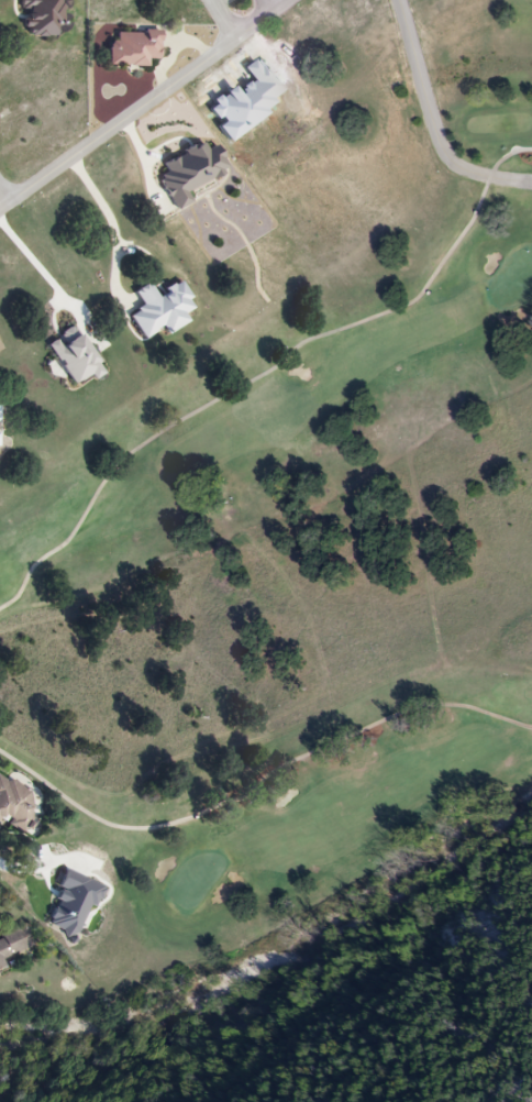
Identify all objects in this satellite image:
road: (270, 5)
road: (225, 19)
building: (131, 47)
road: (145, 103)
road: (434, 123)
road: (112, 216)
road: (34, 252)
building: (13, 805)
building: (11, 941)

